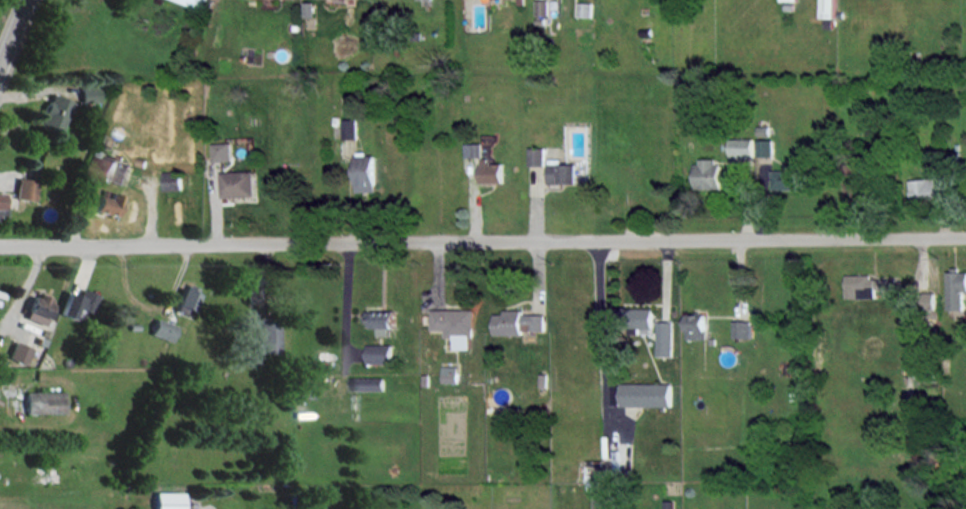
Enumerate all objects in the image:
building: (786, 0)
building: (192, 2)
building: (827, 8)
building: (584, 9)
road: (13, 32)
building: (89, 94)
building: (55, 112)
building: (349, 128)
building: (742, 147)
building: (765, 147)
building: (472, 149)
building: (221, 151)
building: (535, 156)
building: (490, 171)
building: (561, 172)
building: (708, 173)
building: (787, 179)
building: (172, 180)
building: (237, 183)
building: (929, 188)
building: (25, 189)
building: (0, 194)
building: (107, 204)
road: (483, 240)
building: (250, 284)
building: (860, 286)
building: (956, 288)
building: (186, 299)
building: (76, 302)
road: (346, 305)
building: (38, 308)
building: (641, 318)
building: (382, 320)
building: (517, 322)
building: (455, 325)
building: (694, 326)
building: (161, 329)
building: (741, 329)
building: (268, 335)
building: (664, 338)
road: (603, 340)
building: (18, 352)
building: (380, 353)
building: (450, 373)
building: (368, 383)
building: (641, 394)
building: (43, 402)
building: (167, 500)
building: (604, 500)

